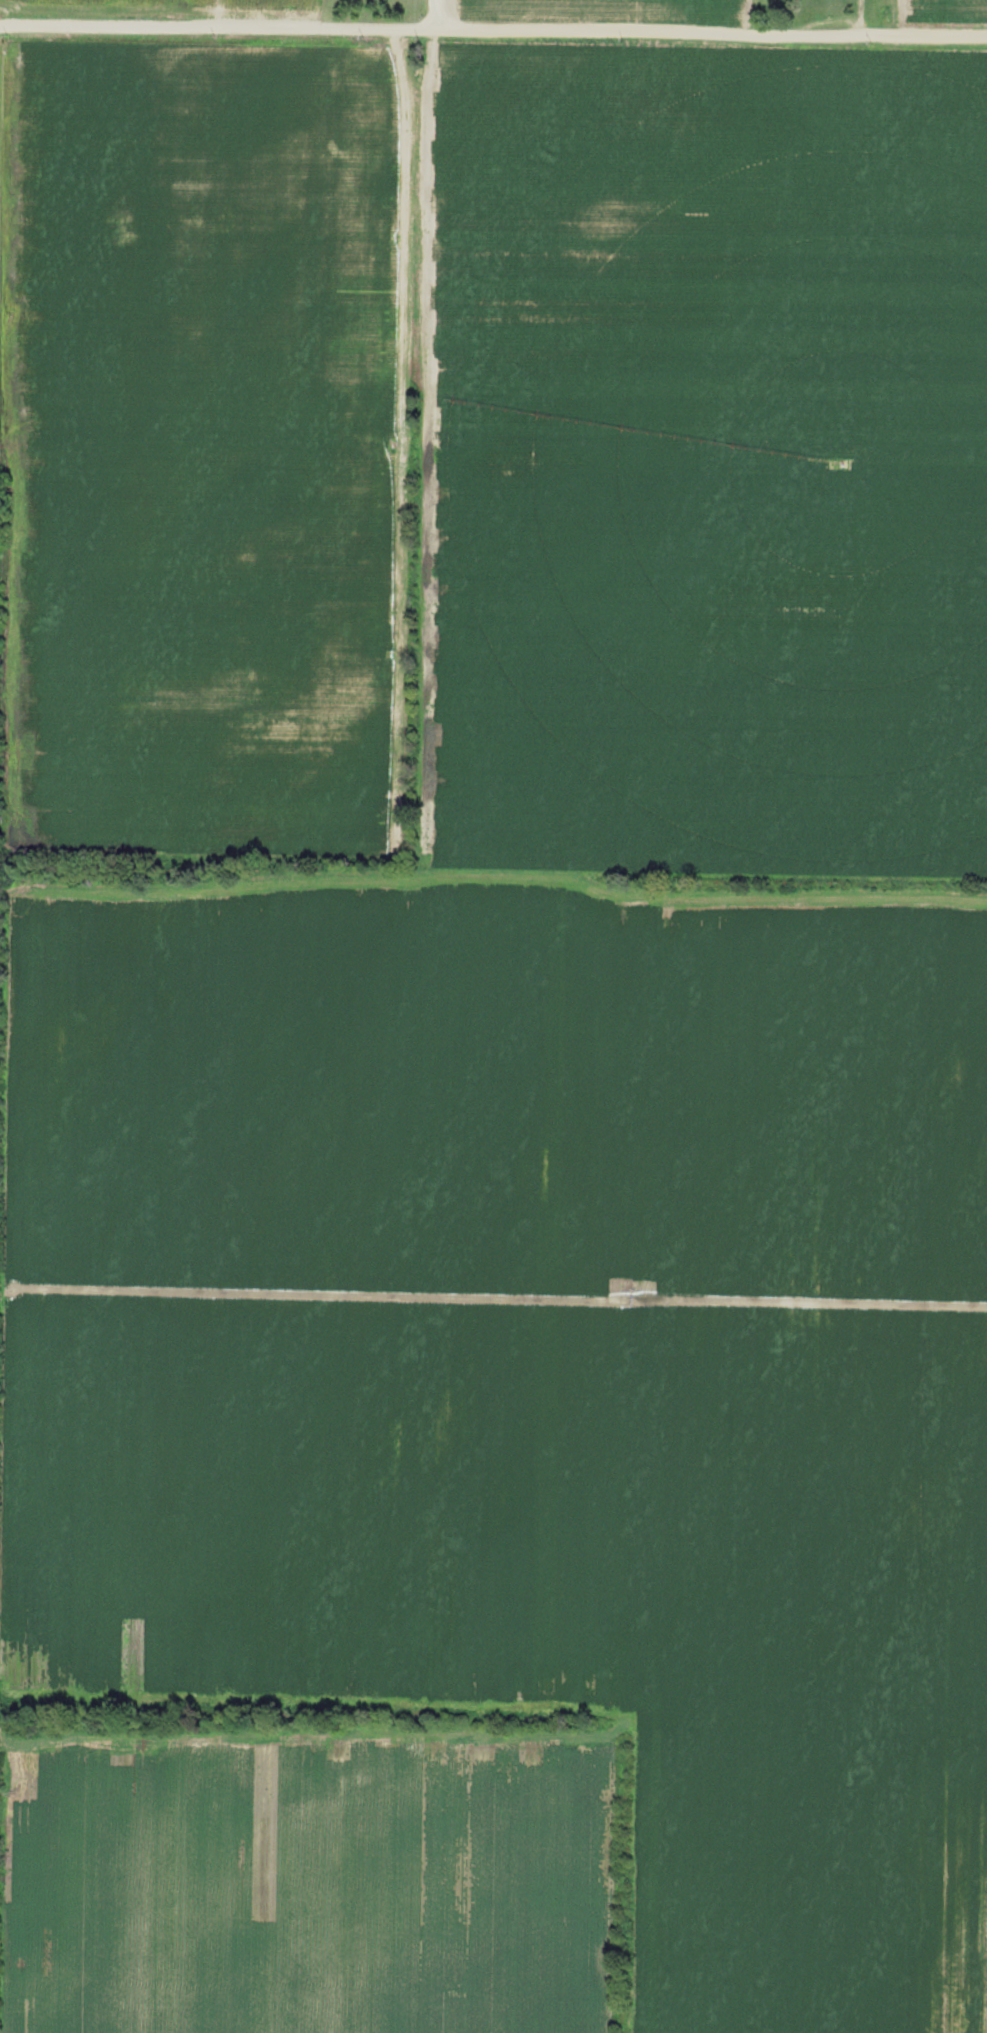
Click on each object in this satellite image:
road: (437, 14)
road: (862, 17)
road: (493, 29)

